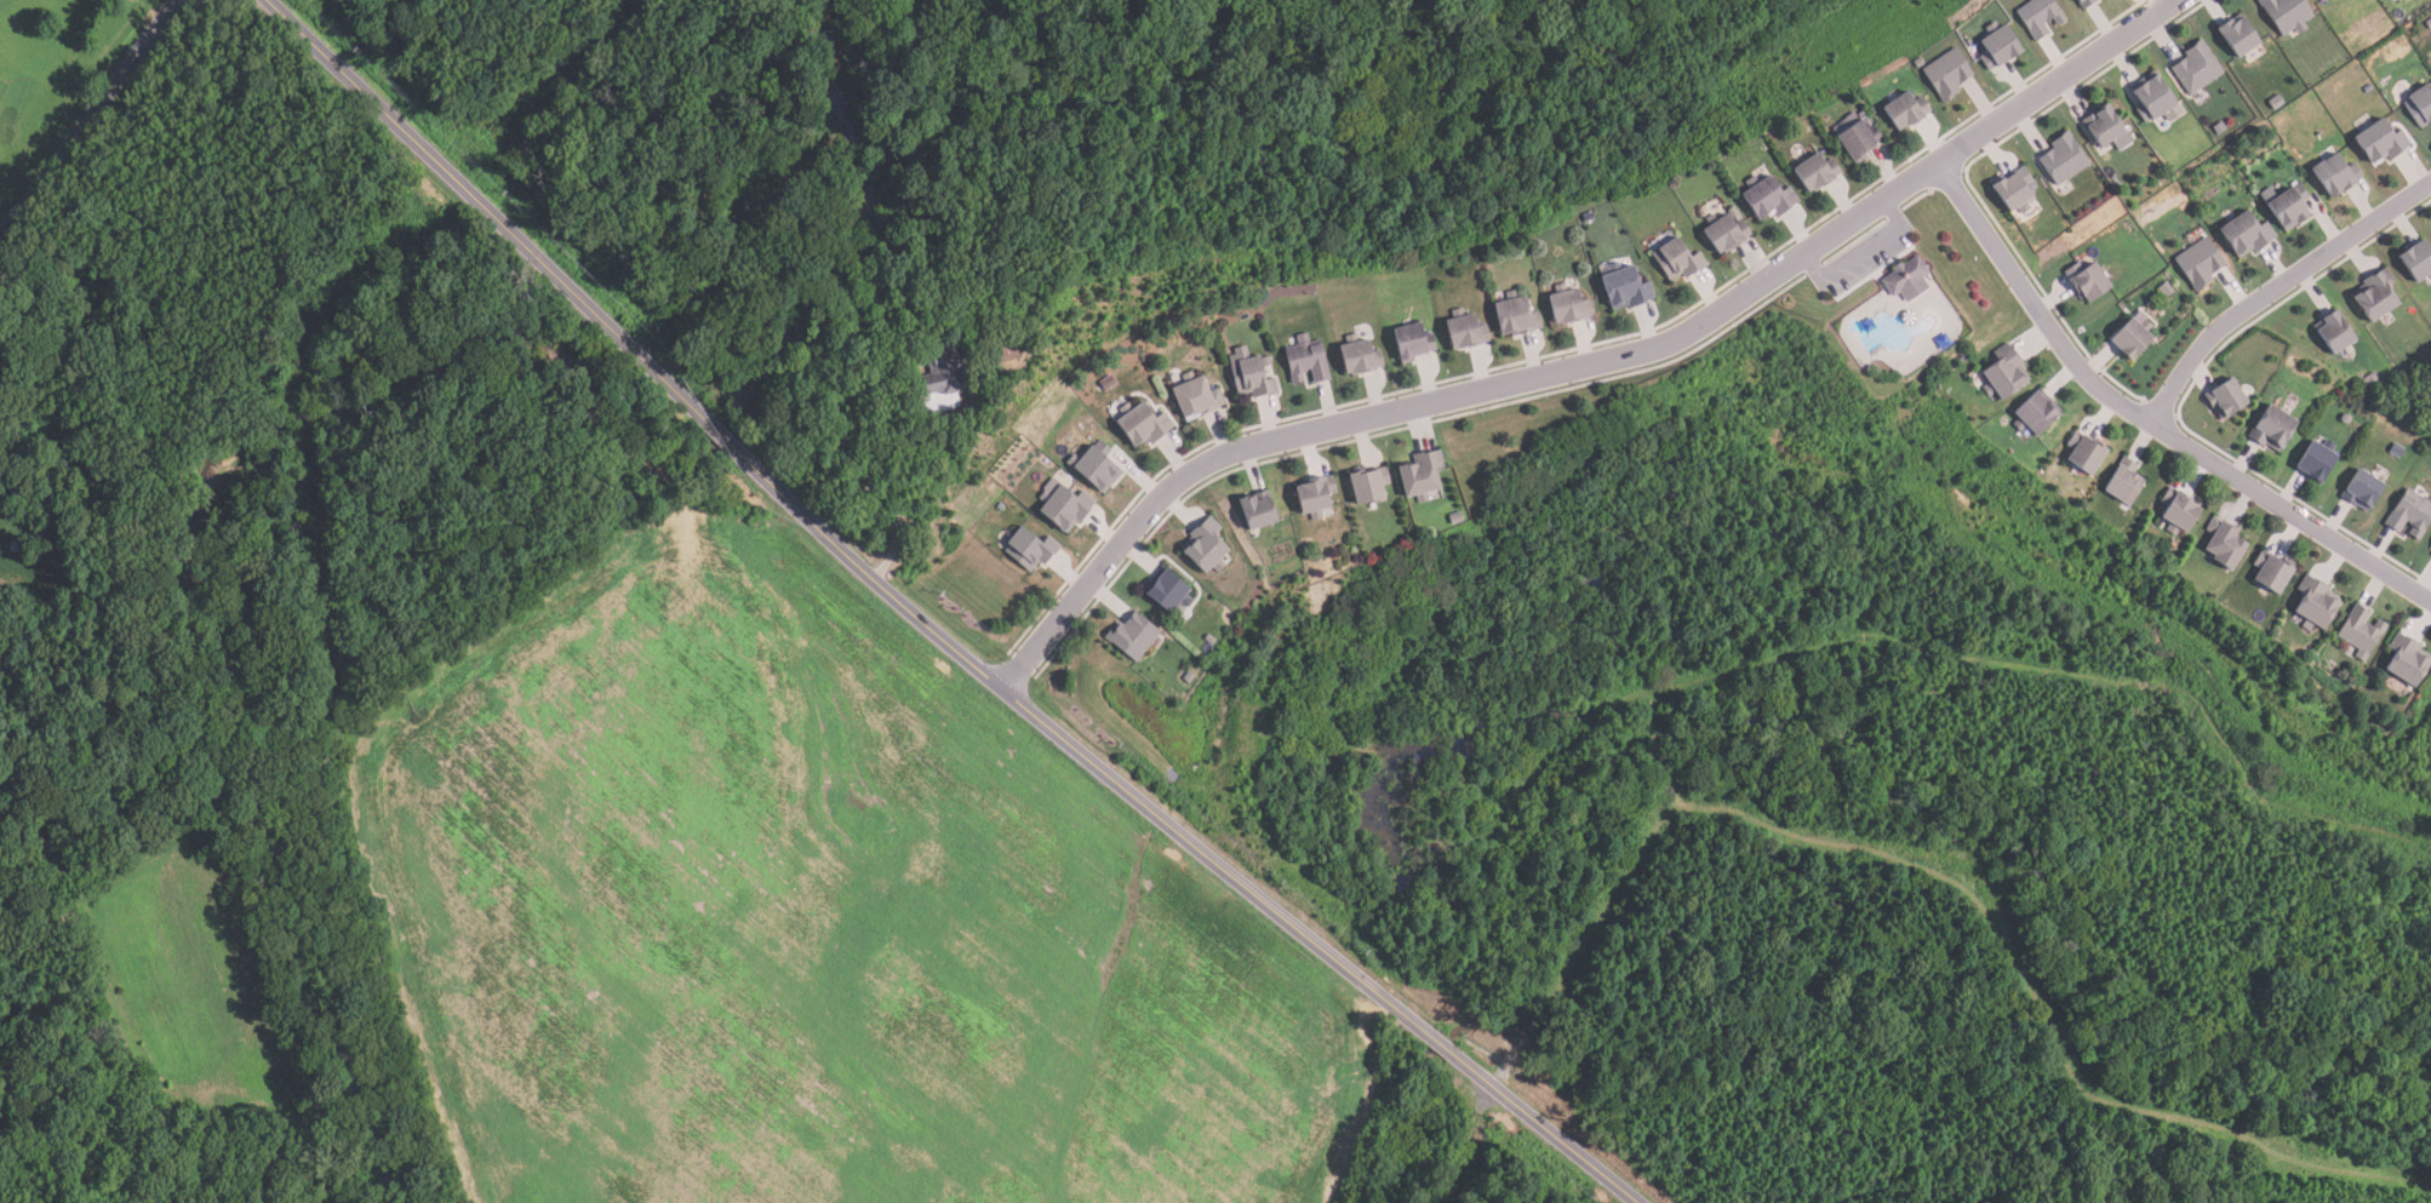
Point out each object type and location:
building: (2326, 1)
building: (2084, 4)
building: (2287, 15)
building: (2038, 16)
building: (2238, 36)
building: (1997, 46)
building: (1916, 62)
building: (2197, 68)
building: (1946, 74)
building: (2368, 87)
building: (2153, 98)
building: (2276, 103)
building: (2419, 107)
building: (1904, 110)
road: (88, 119)
building: (2105, 128)
building: (2219, 128)
building: (1855, 138)
building: (2381, 141)
building: (2063, 159)
building: (1814, 171)
building: (2335, 174)
building: (2013, 191)
building: (1767, 199)
building: (2288, 206)
road: (486, 210)
building: (1588, 217)
building: (1724, 233)
building: (2248, 234)
road: (1863, 254)
building: (1678, 259)
building: (2416, 262)
building: (2200, 263)
building: (1906, 280)
building: (2086, 281)
road: (2276, 287)
building: (1624, 288)
building: (2166, 290)
building: (2375, 296)
building: (1568, 305)
building: (1516, 317)
building: (1464, 330)
building: (2334, 333)
building: (2130, 338)
building: (1412, 343)
building: (1360, 356)
building: (1306, 360)
road: (1583, 367)
building: (943, 368)
building: (2001, 371)
building: (1251, 374)
building: (2369, 379)
building: (1109, 383)
building: (1197, 397)
building: (2225, 397)
building: (2034, 411)
road: (2147, 420)
building: (1144, 425)
building: (2273, 426)
road: (716, 431)
building: (2397, 449)
building: (2082, 452)
building: (2317, 458)
building: (1097, 466)
road: (857, 471)
building: (1420, 474)
building: (2122, 480)
building: (1368, 482)
building: (97, 483)
building: (2363, 488)
road: (4, 489)
building: (1314, 493)
building: (1001, 506)
building: (1258, 508)
building: (1065, 509)
building: (2177, 510)
building: (2410, 511)
building: (1453, 517)
building: (2223, 543)
building: (1208, 545)
building: (1029, 550)
building: (2271, 571)
building: (1168, 590)
building: (2313, 601)
building: (2359, 631)
building: (1132, 635)
building: (1209, 637)
building: (2406, 658)
building: (1189, 677)
road: (1134, 804)
road: (1600, 1175)

